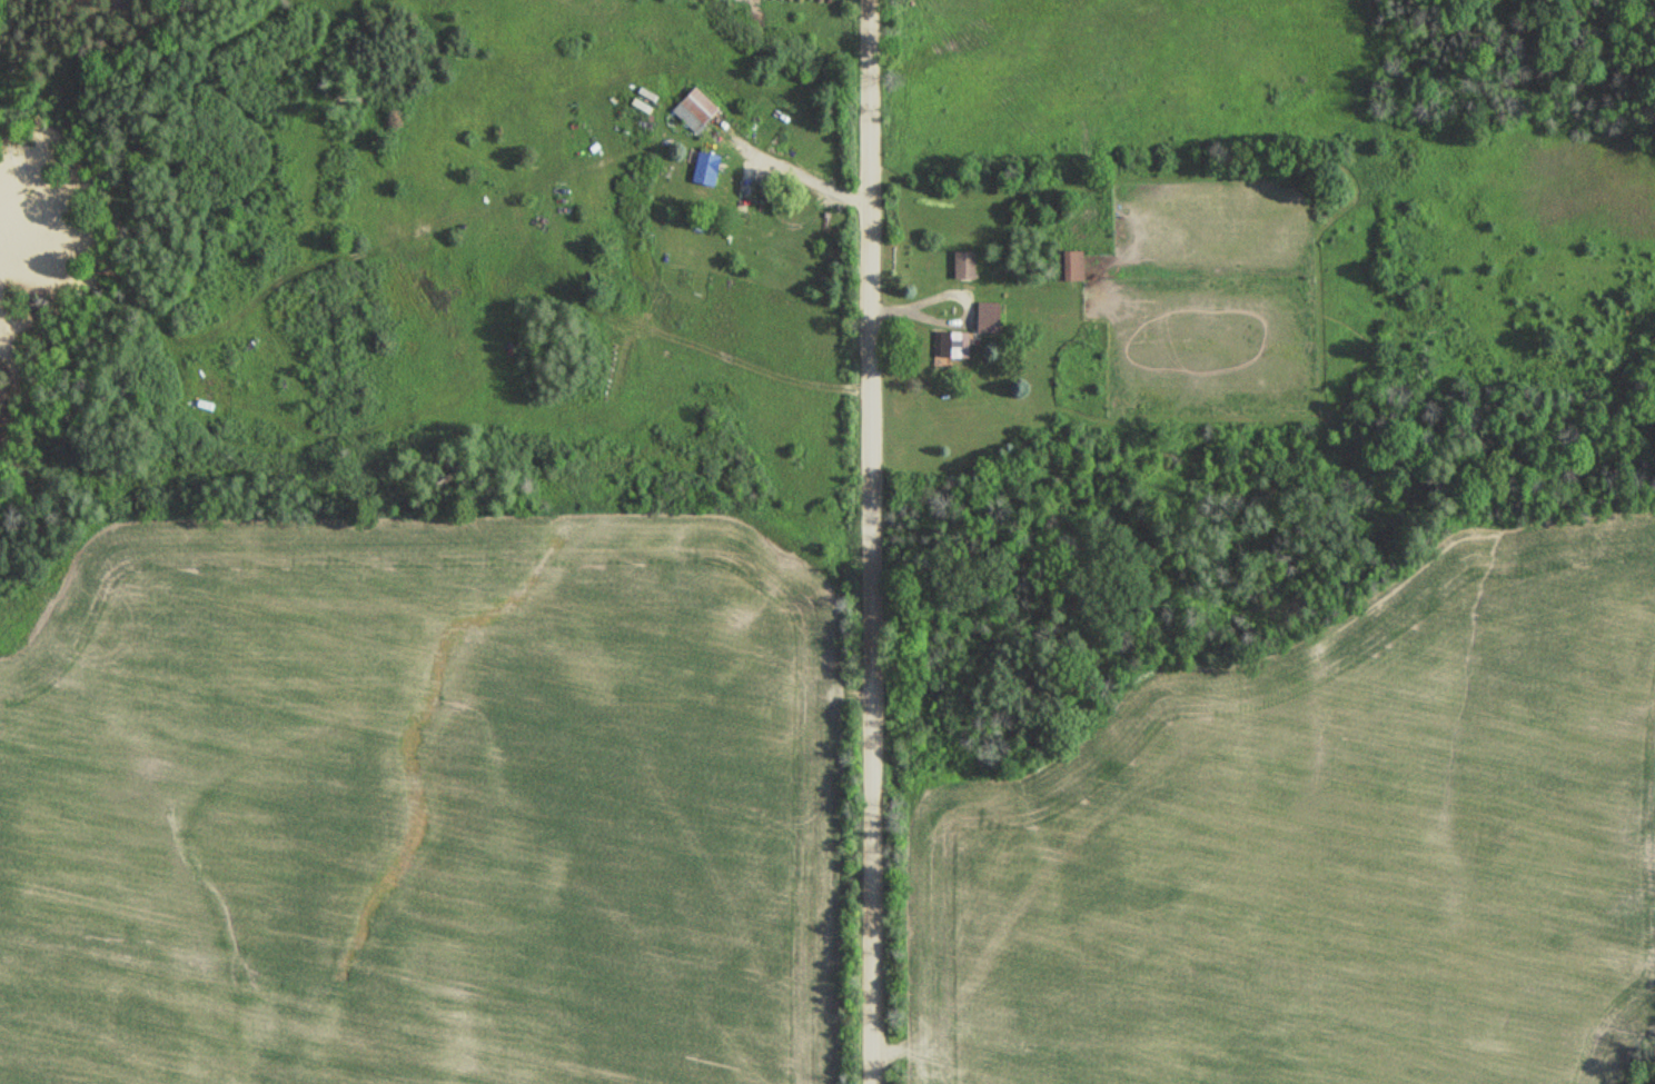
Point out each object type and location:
building: (700, 110)
building: (711, 169)
building: (1076, 263)
building: (969, 265)
building: (992, 318)
building: (954, 346)
road: (870, 541)

